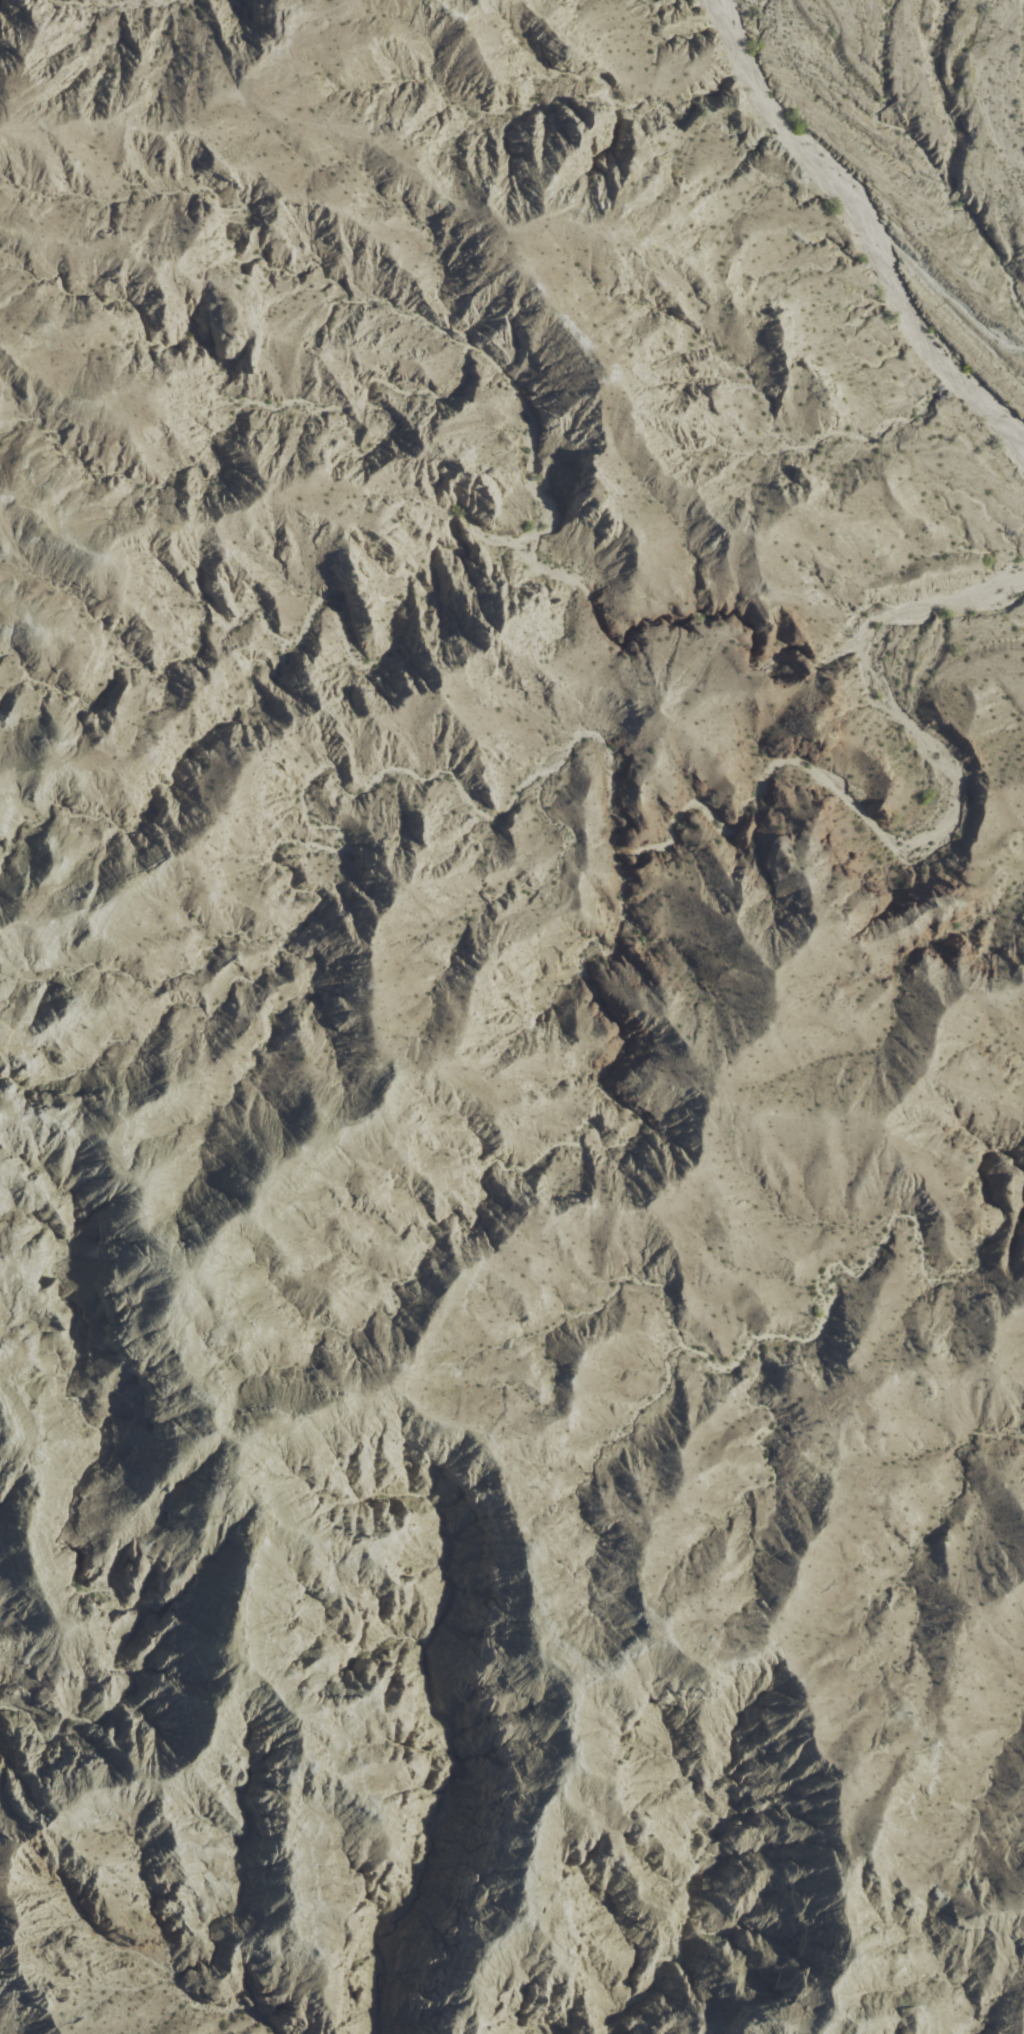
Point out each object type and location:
road: (465, 540)

